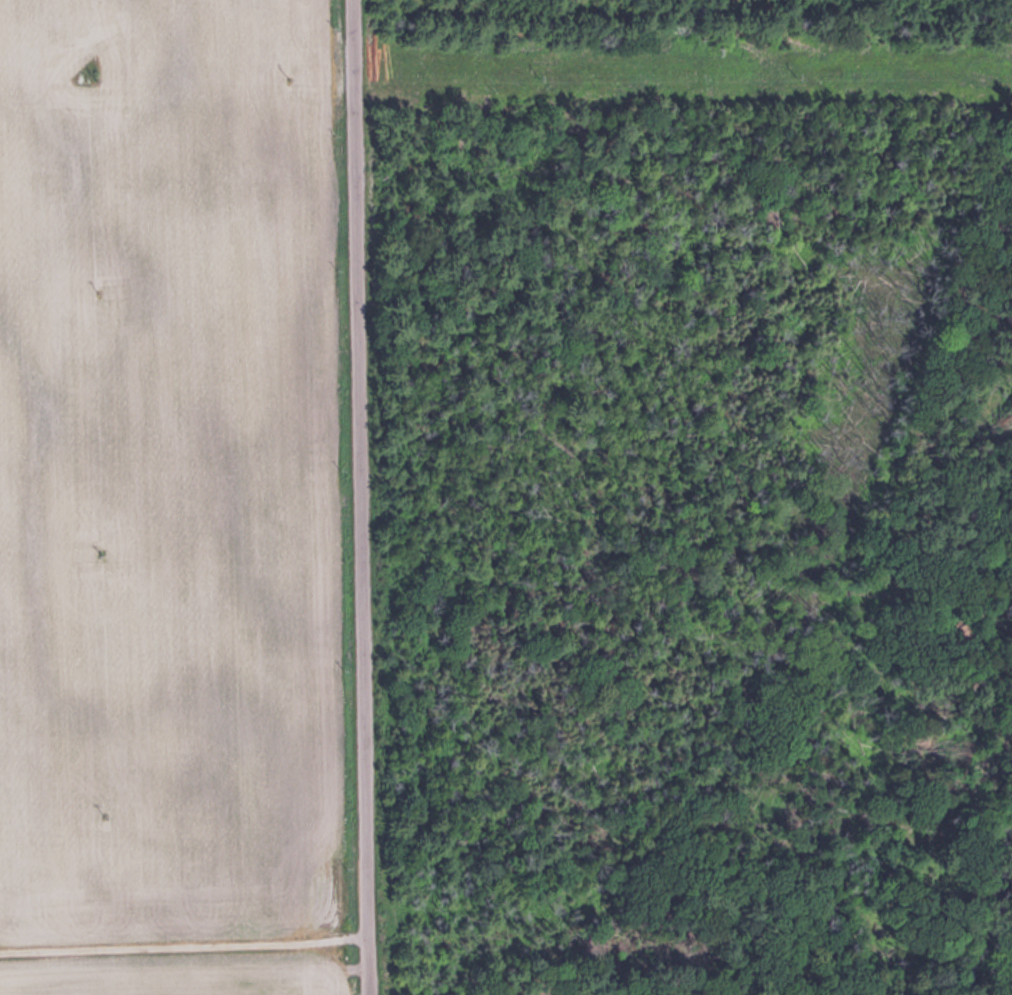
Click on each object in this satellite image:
road: (358, 497)

